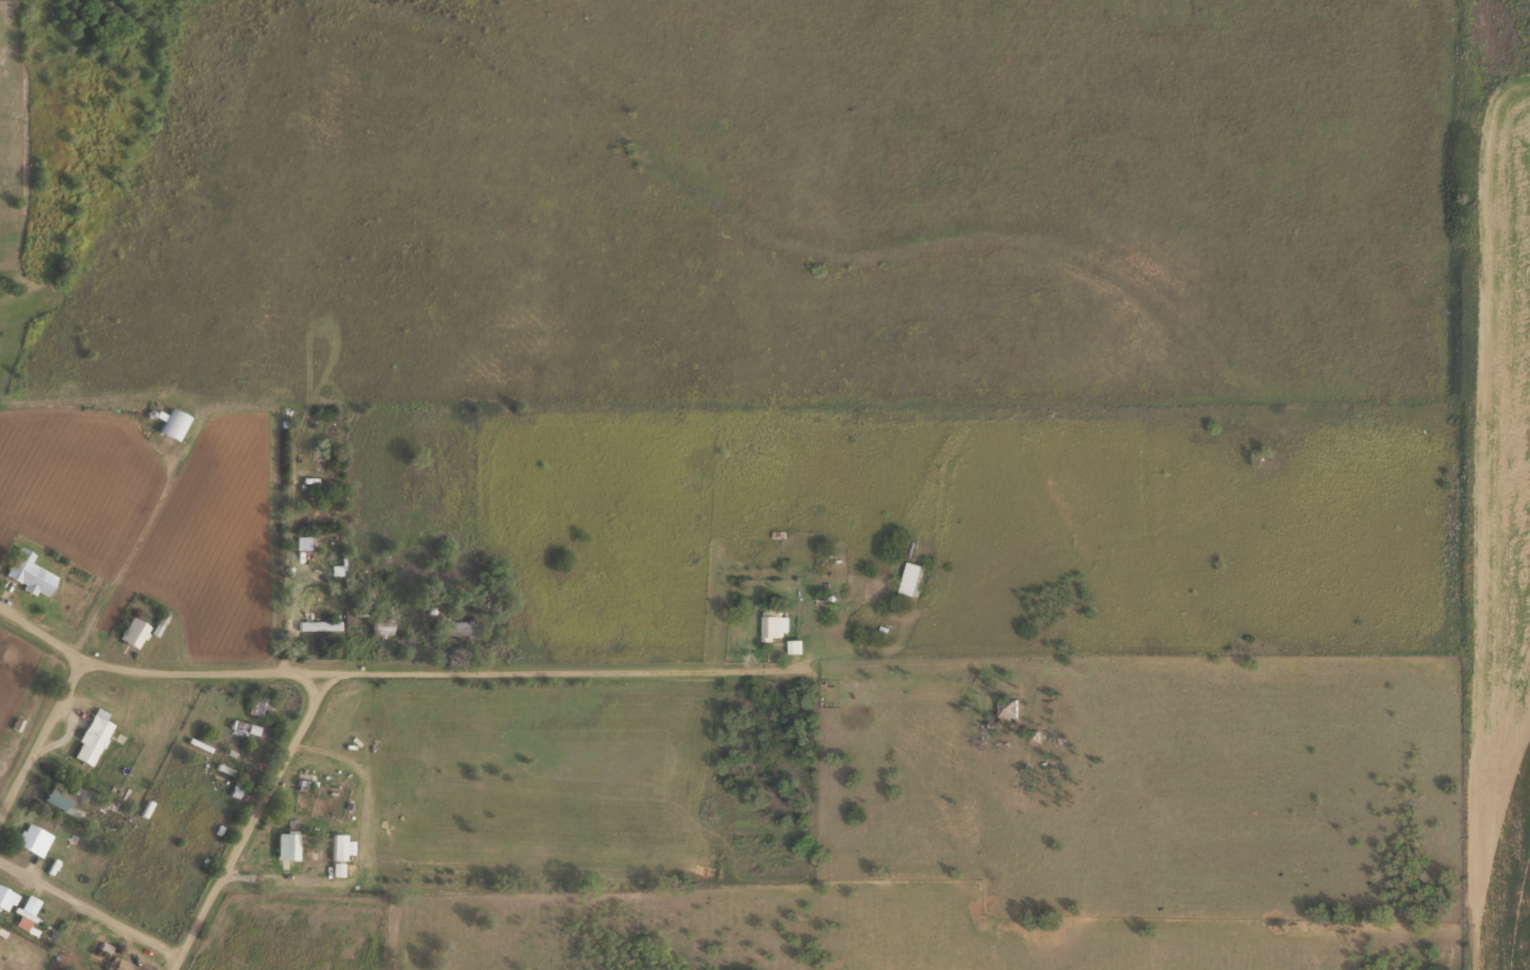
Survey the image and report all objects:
building: (174, 424)
building: (303, 541)
building: (29, 572)
building: (911, 577)
building: (307, 624)
building: (775, 625)
building: (458, 627)
building: (133, 632)
road: (399, 672)
building: (262, 704)
building: (1007, 705)
building: (91, 737)
road: (41, 741)
building: (236, 788)
building: (64, 797)
road: (253, 823)
building: (34, 838)
building: (286, 843)
building: (339, 845)
building: (6, 897)
road: (92, 904)
building: (26, 911)
building: (122, 964)

